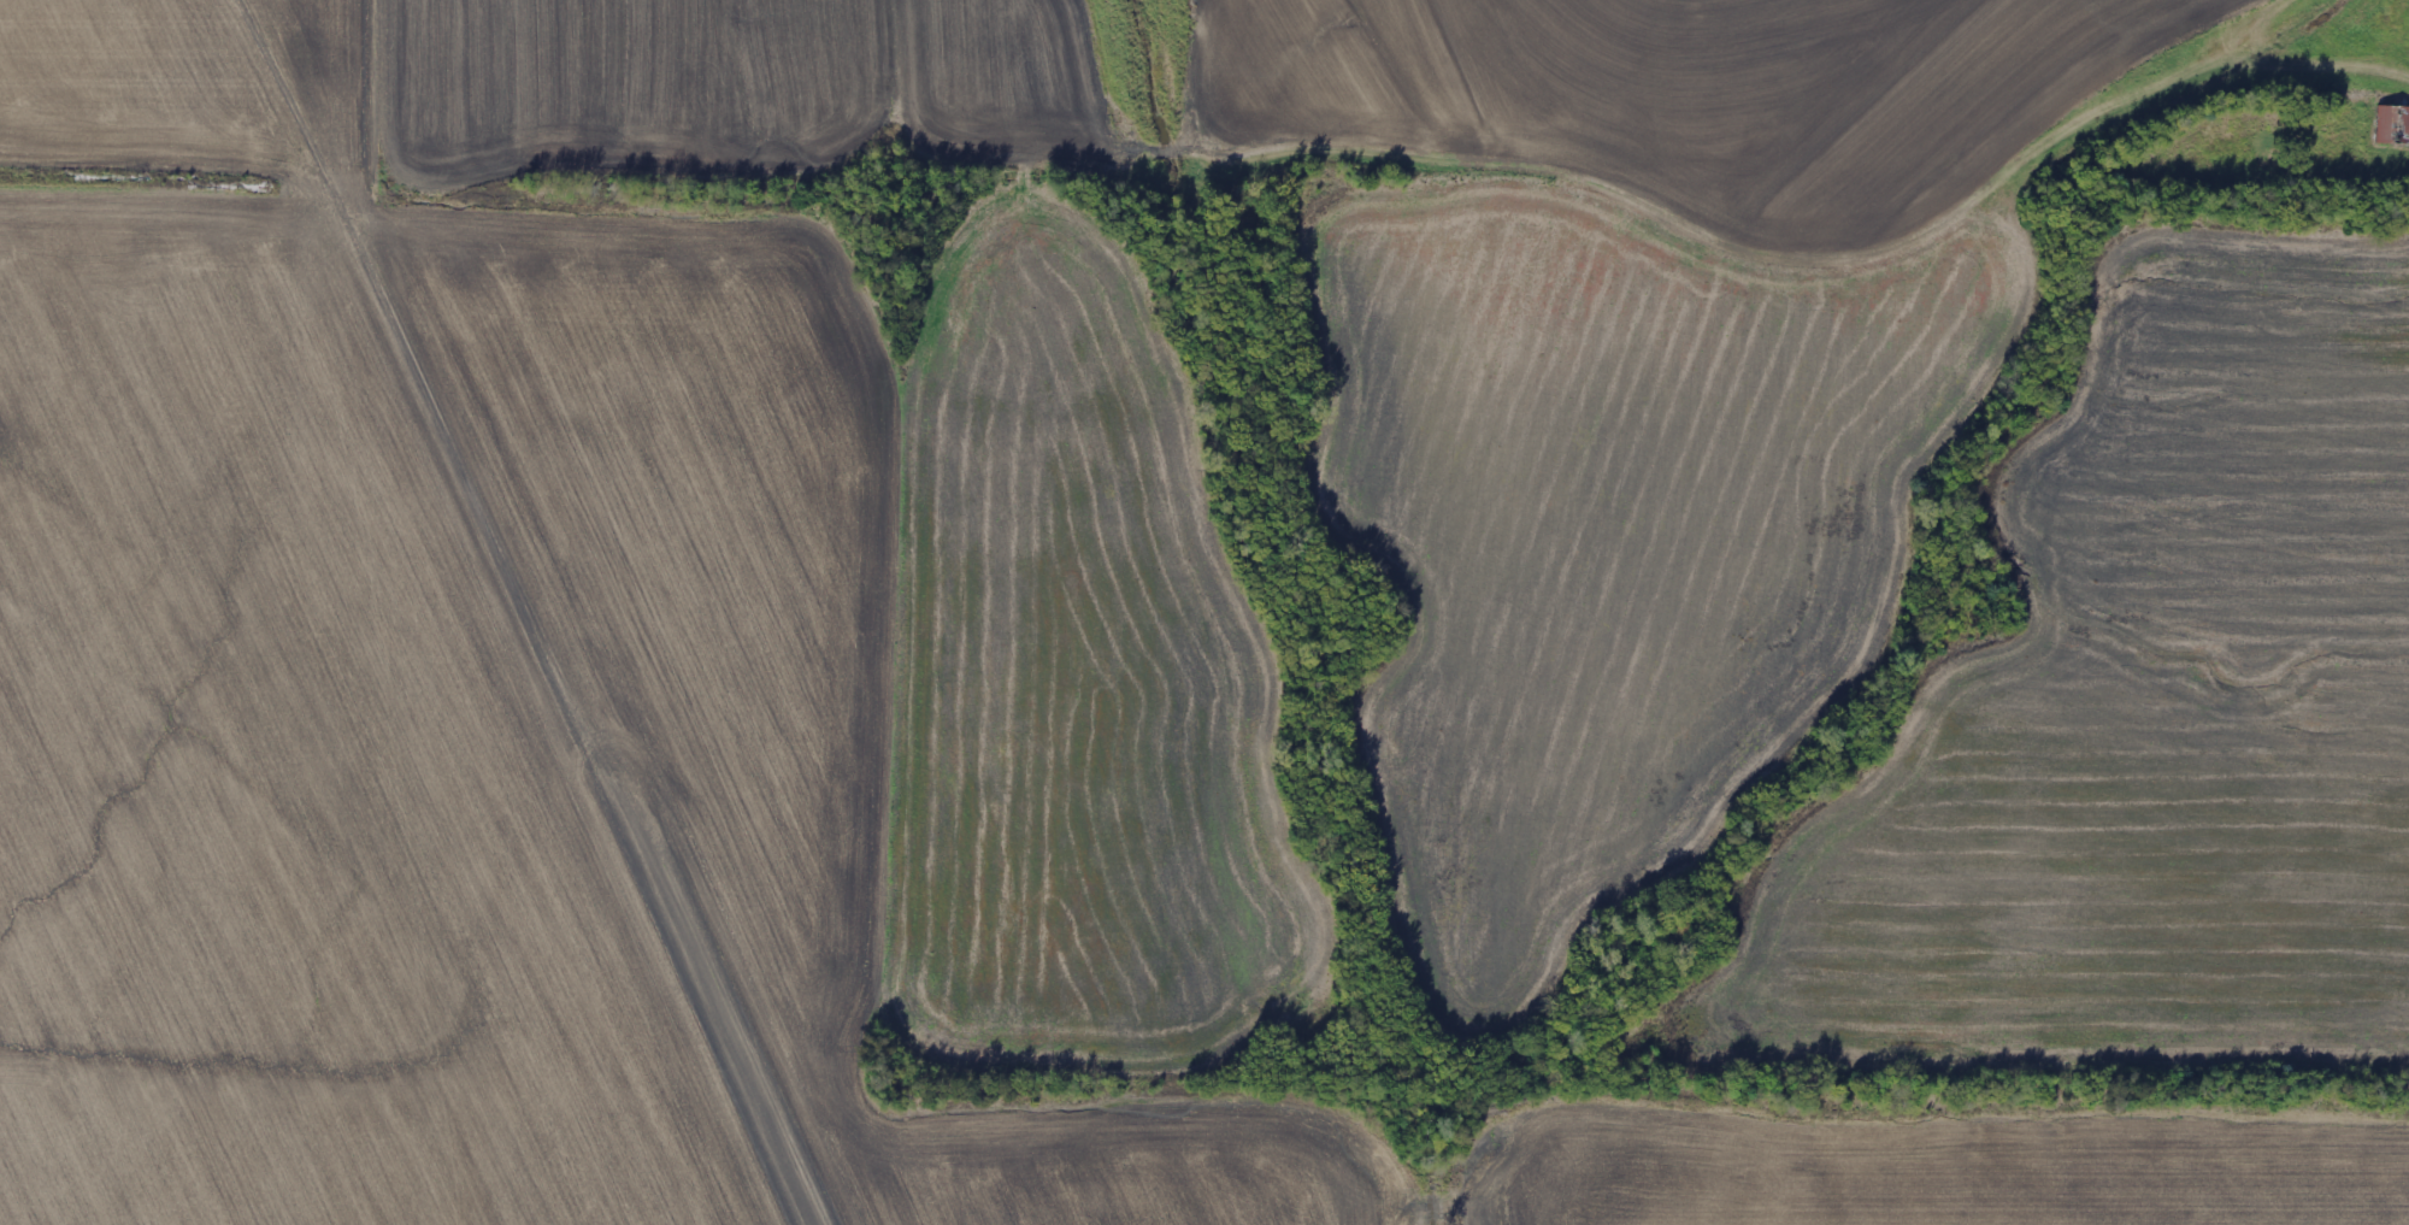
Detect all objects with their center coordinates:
building: (2392, 124)

